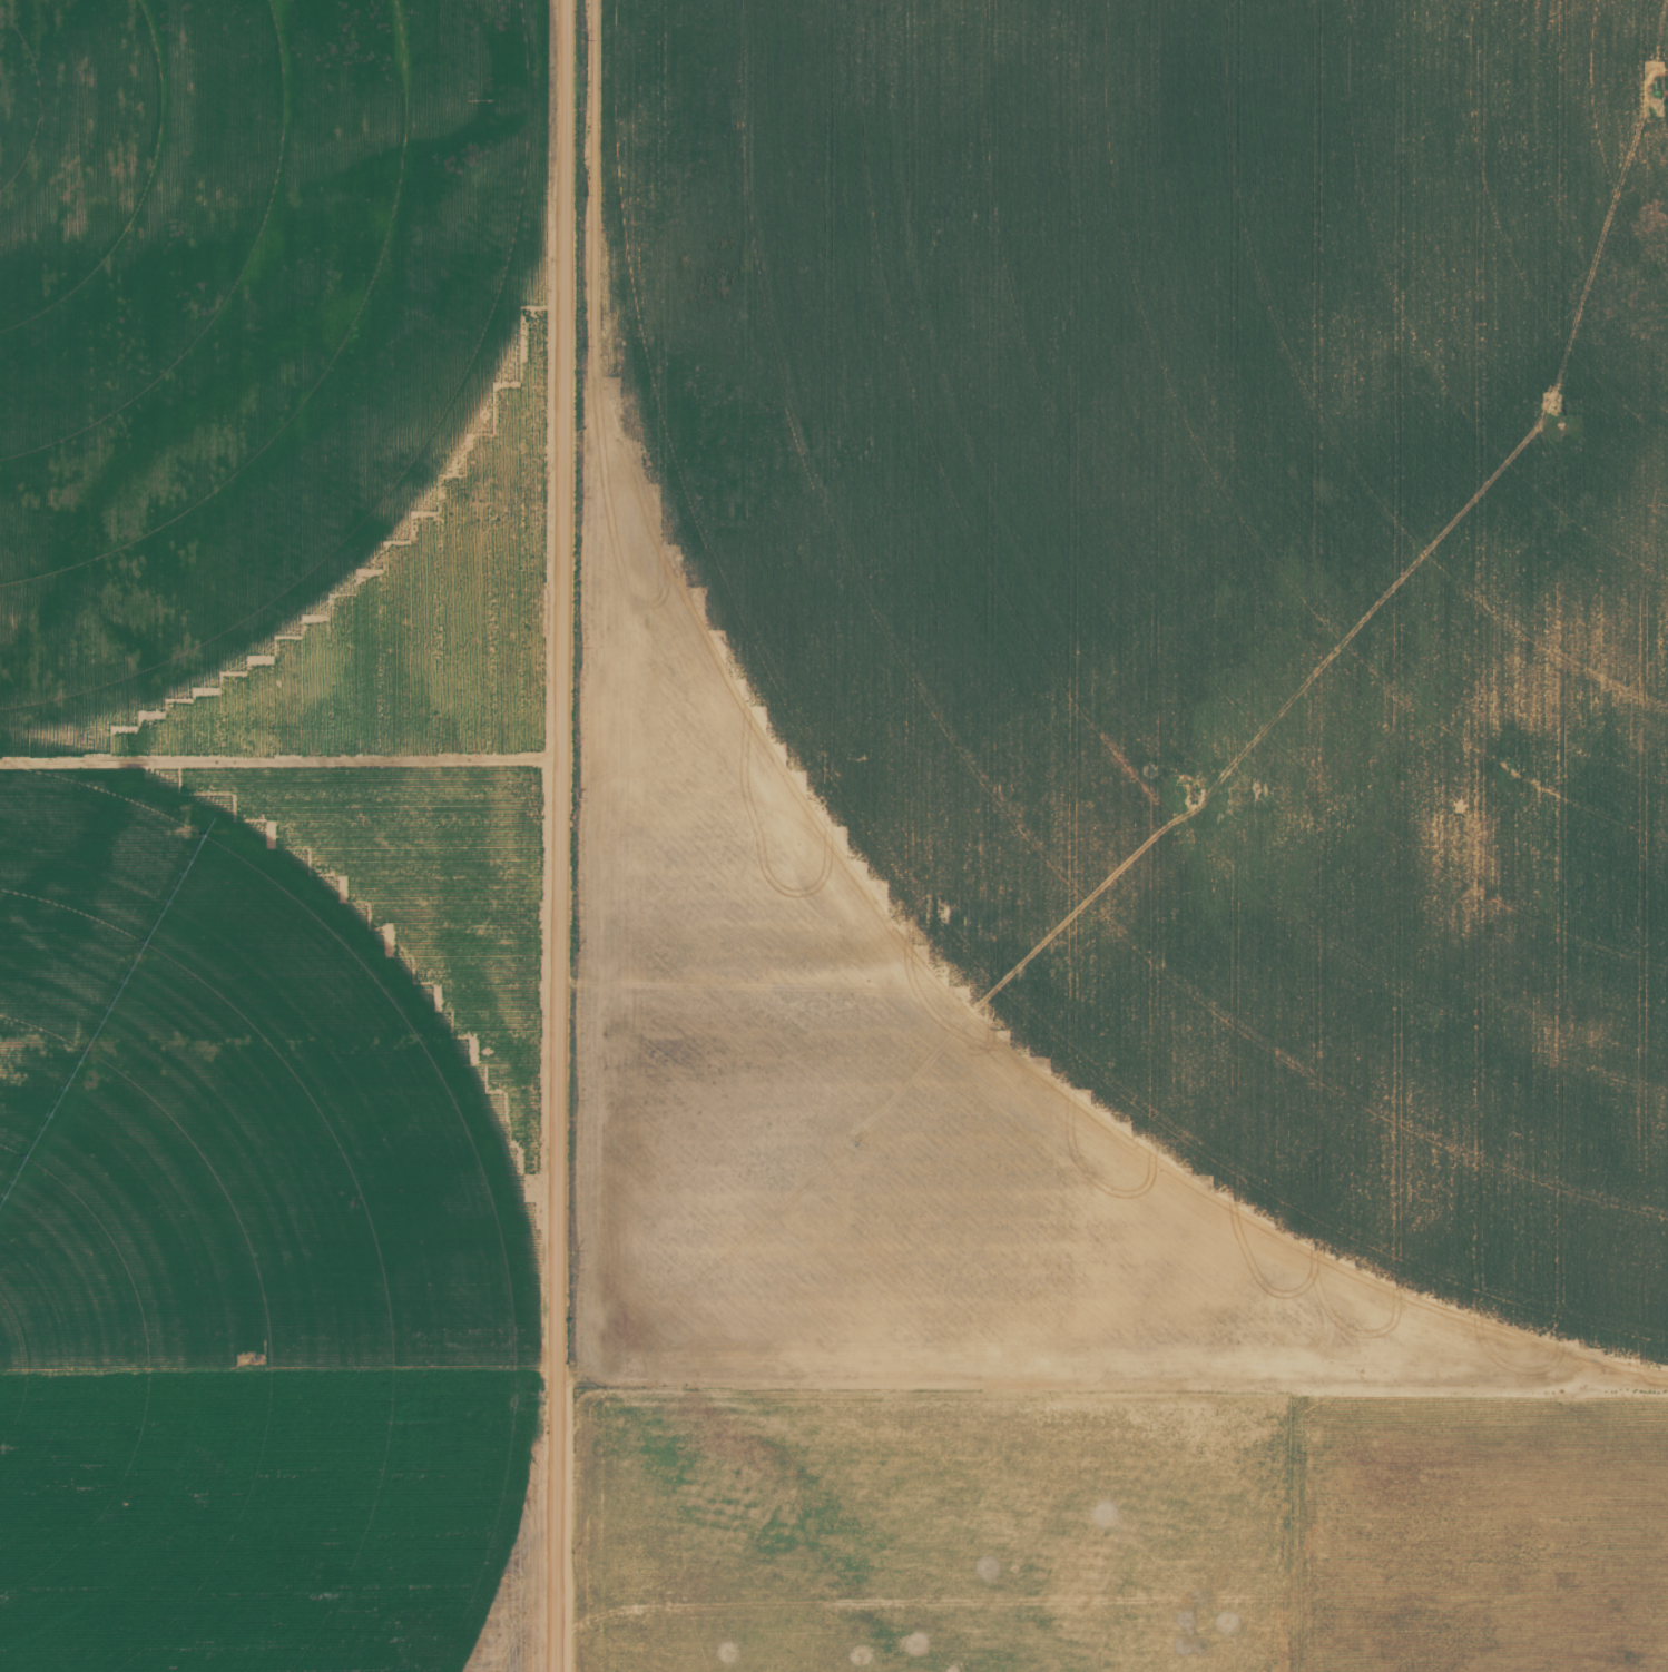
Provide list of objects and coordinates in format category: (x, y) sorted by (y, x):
road: (534, 835)
road: (266, 1101)

